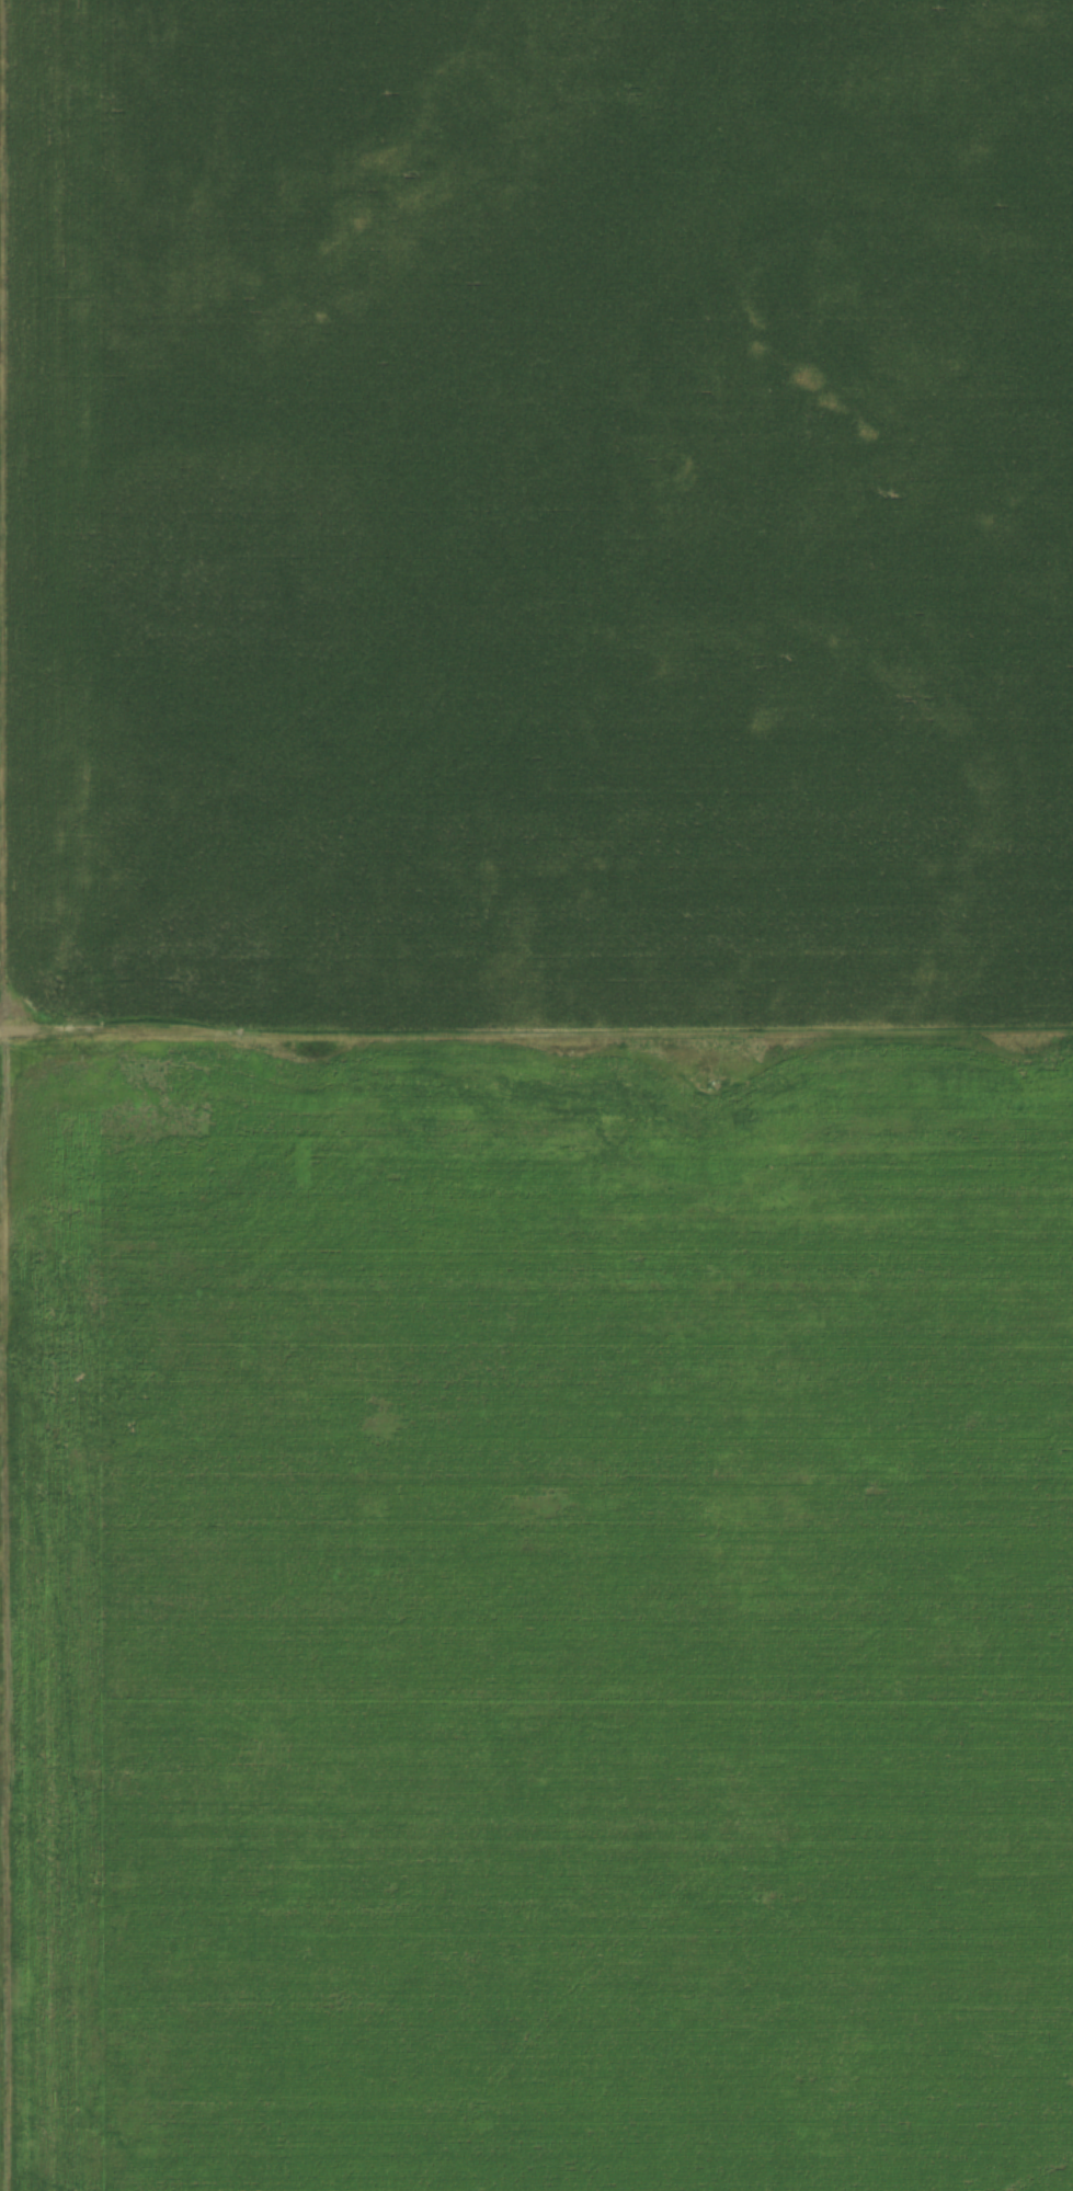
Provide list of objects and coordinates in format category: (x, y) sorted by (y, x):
road: (536, 1026)

